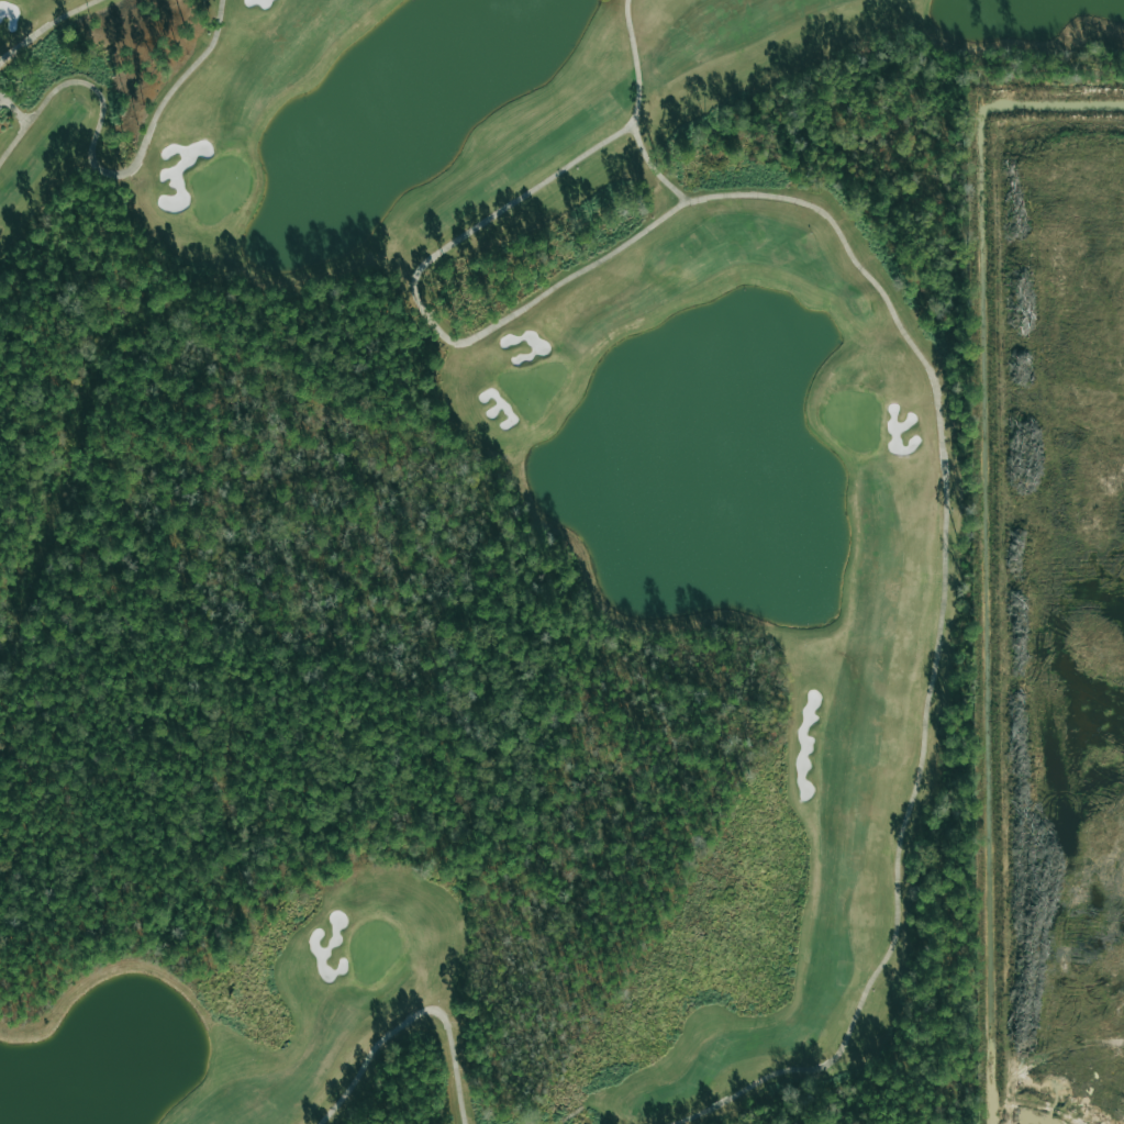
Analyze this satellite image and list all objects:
road: (634, 66)
building: (0, 109)
road: (503, 215)
road: (588, 264)
road: (889, 318)
park: (487, 558)
park: (487, 558)

